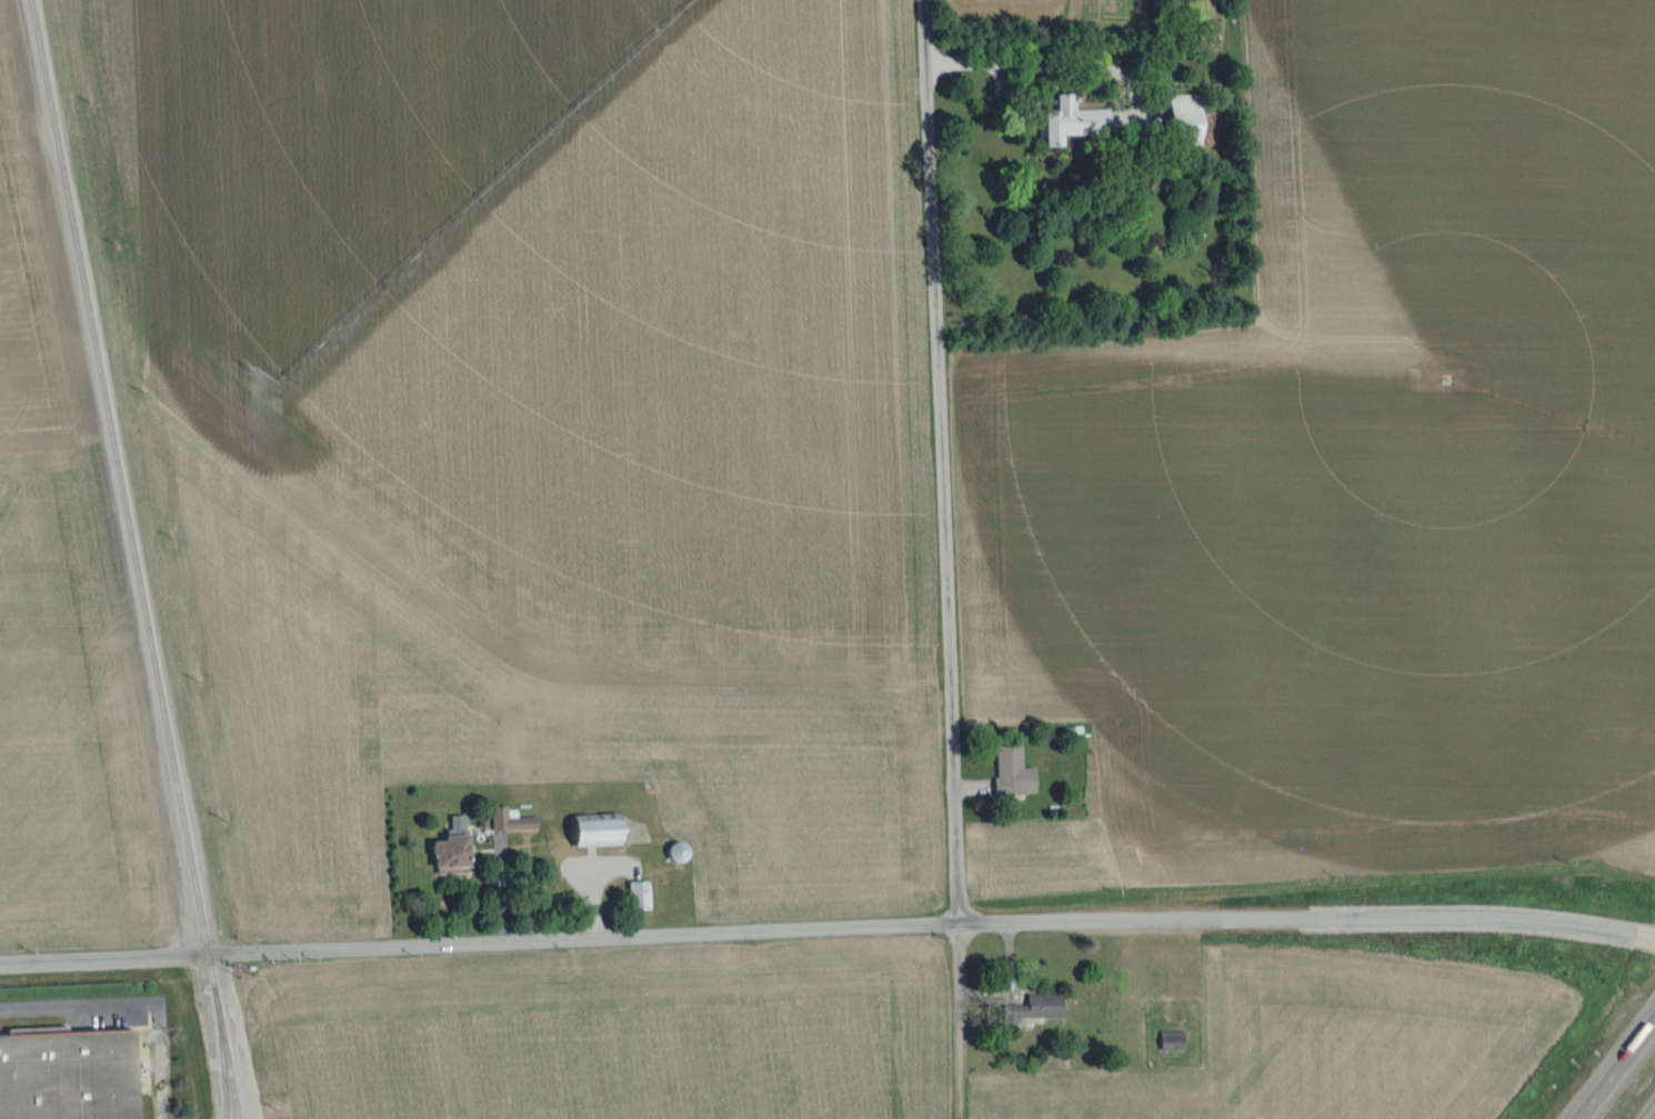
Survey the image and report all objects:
road: (1051, 58)
building: (1182, 119)
building: (1067, 123)
road: (942, 462)
railway: (134, 558)
building: (1011, 774)
building: (498, 816)
building: (591, 833)
building: (448, 849)
road: (818, 929)
road: (1645, 938)
road: (77, 1004)
building: (1035, 1008)
road: (960, 1020)
road: (1615, 1068)
railway: (224, 1069)
building: (67, 1075)
road: (1654, 1118)

